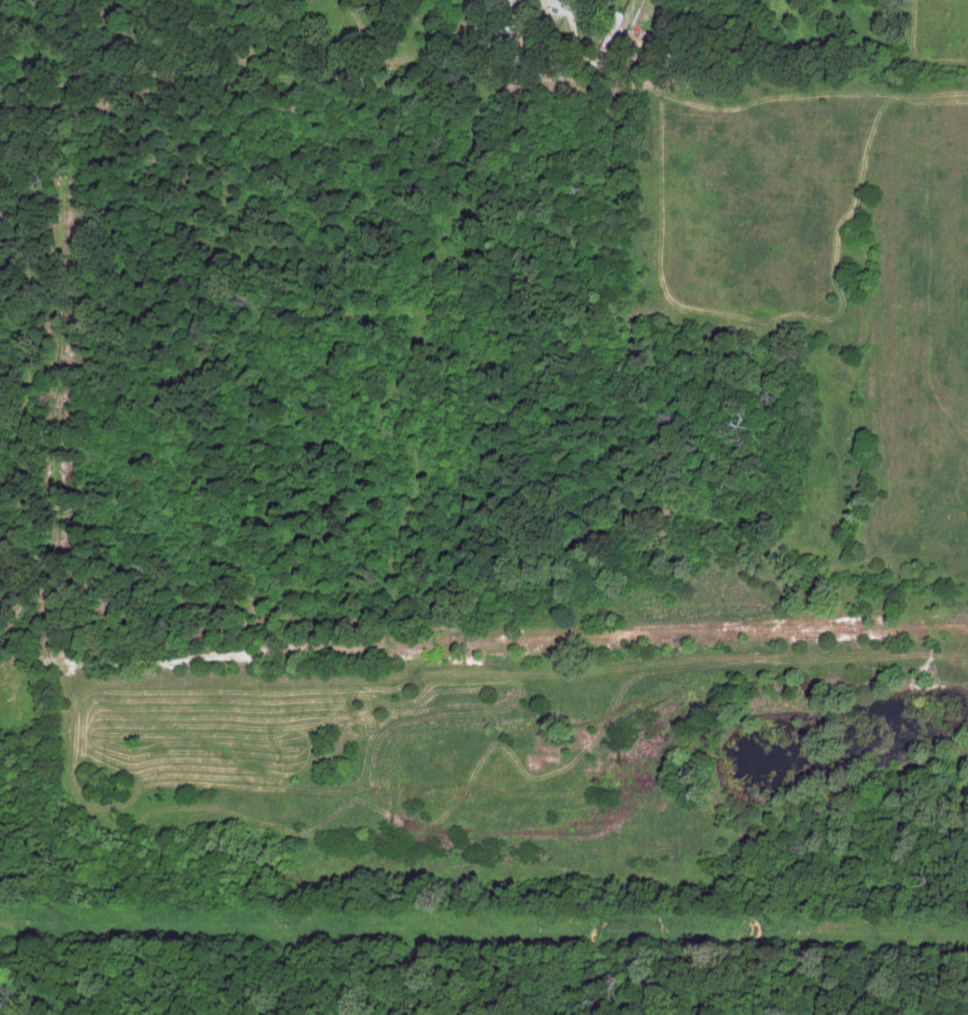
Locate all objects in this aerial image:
building: (528, 13)
road: (575, 19)

